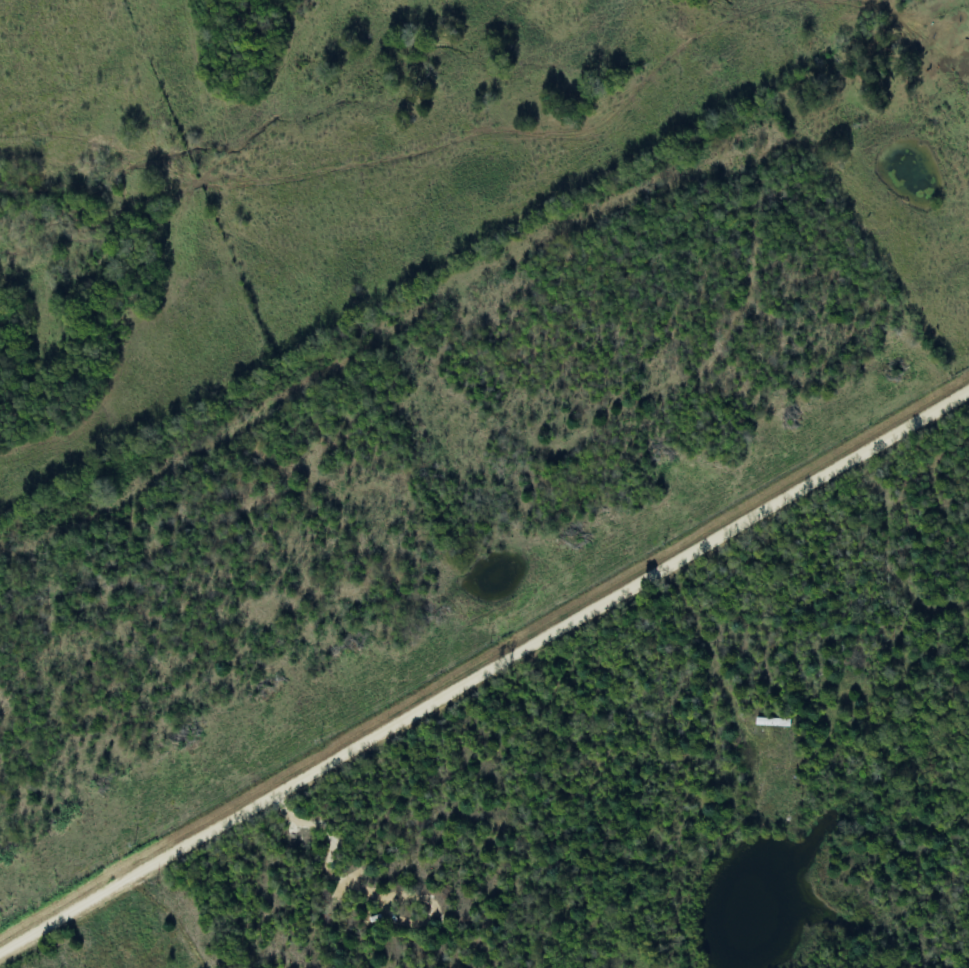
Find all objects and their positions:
road: (484, 676)

